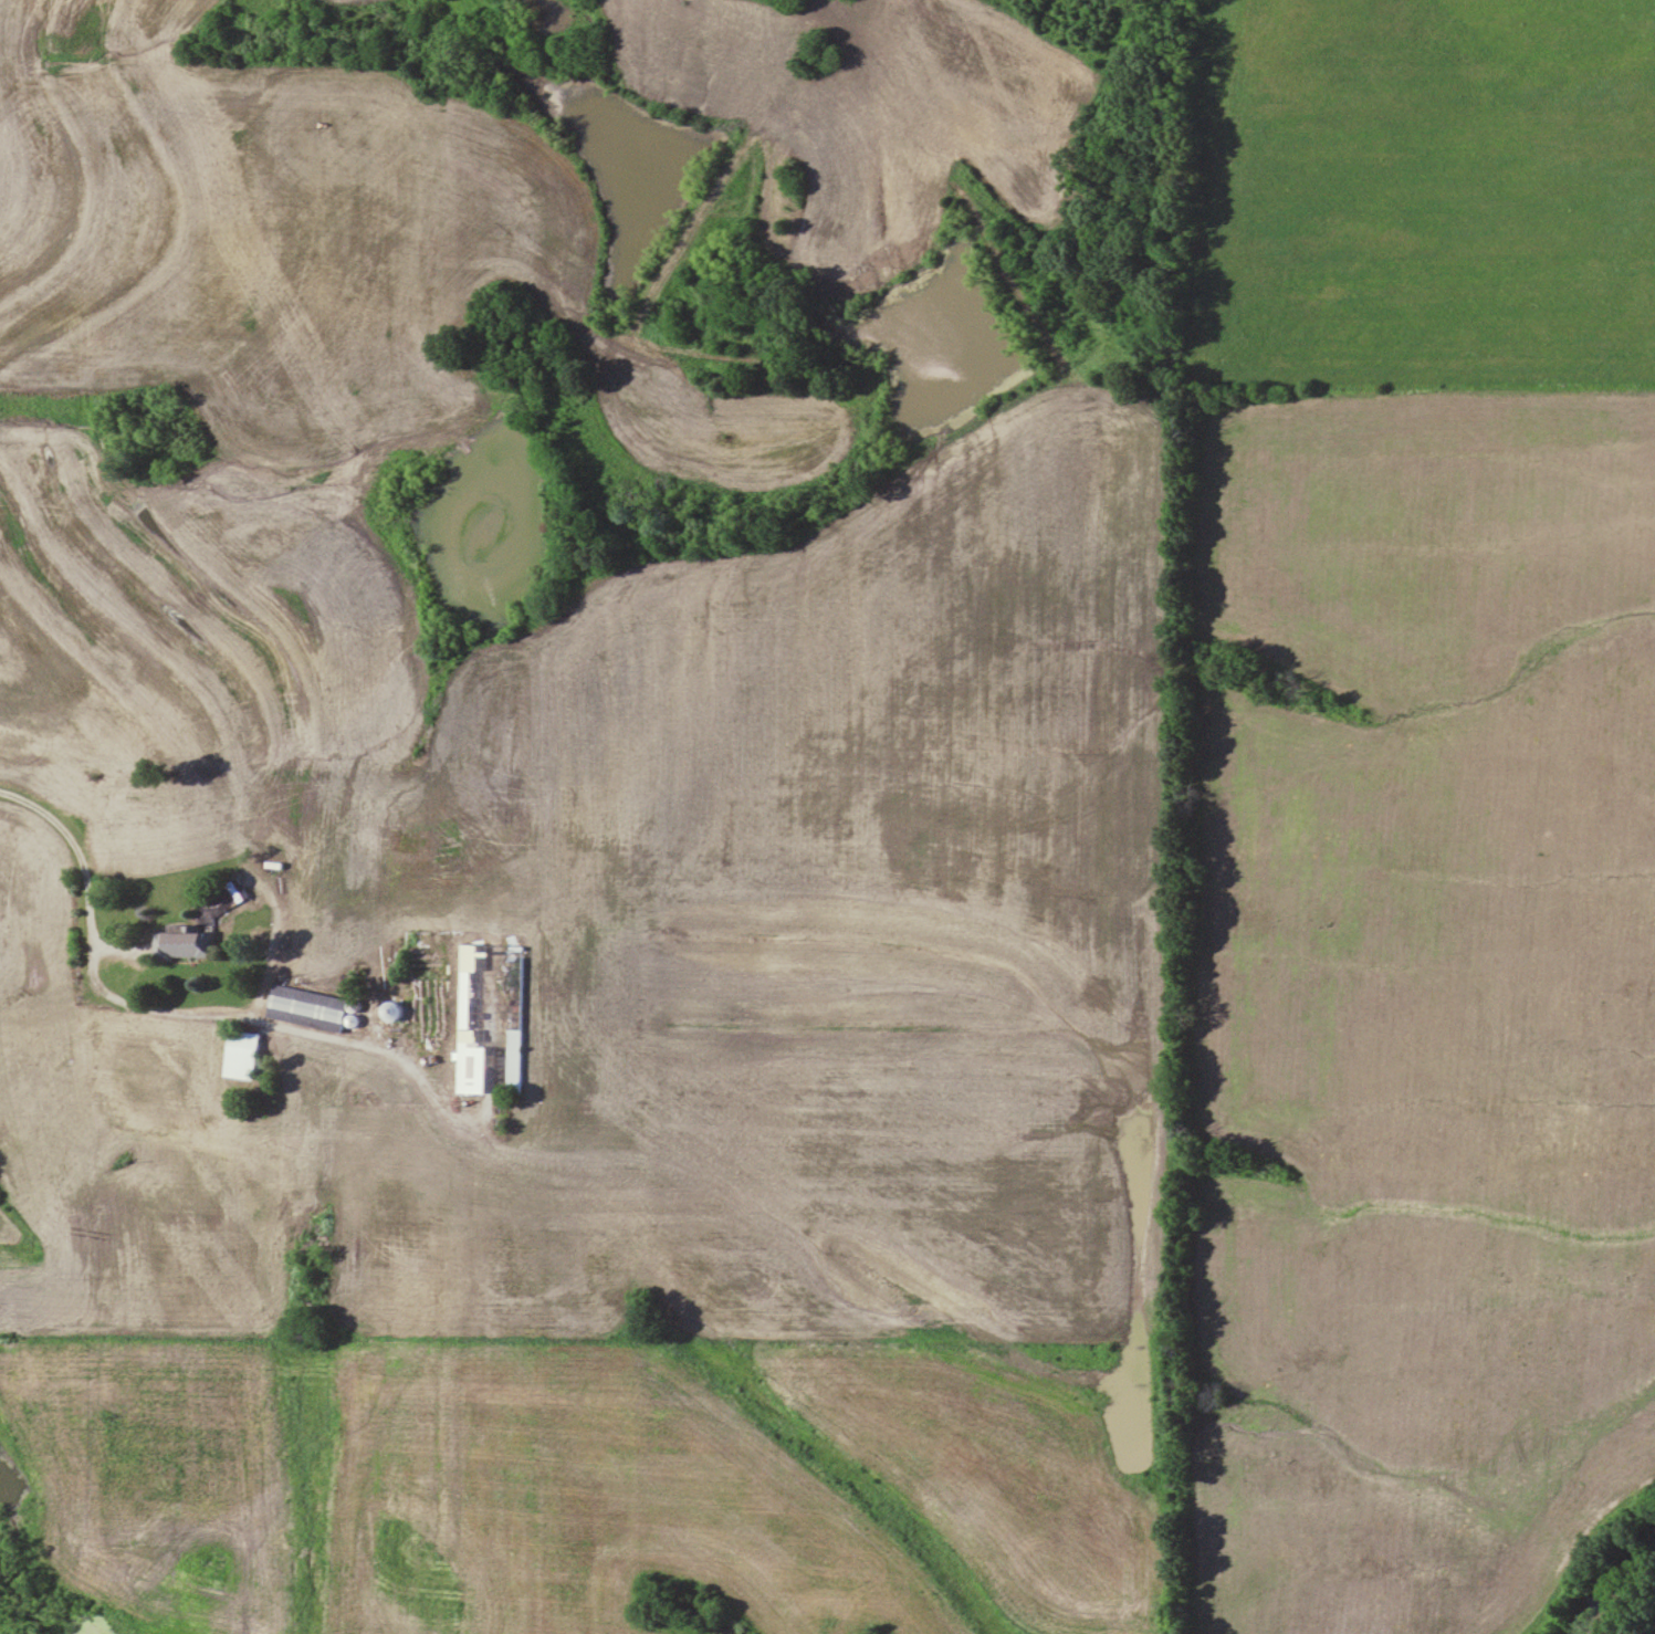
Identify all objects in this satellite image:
building: (186, 943)
road: (271, 944)
building: (310, 1007)
building: (396, 1009)
road: (178, 1014)
building: (490, 1019)
building: (243, 1055)
river: (1619, 1582)

